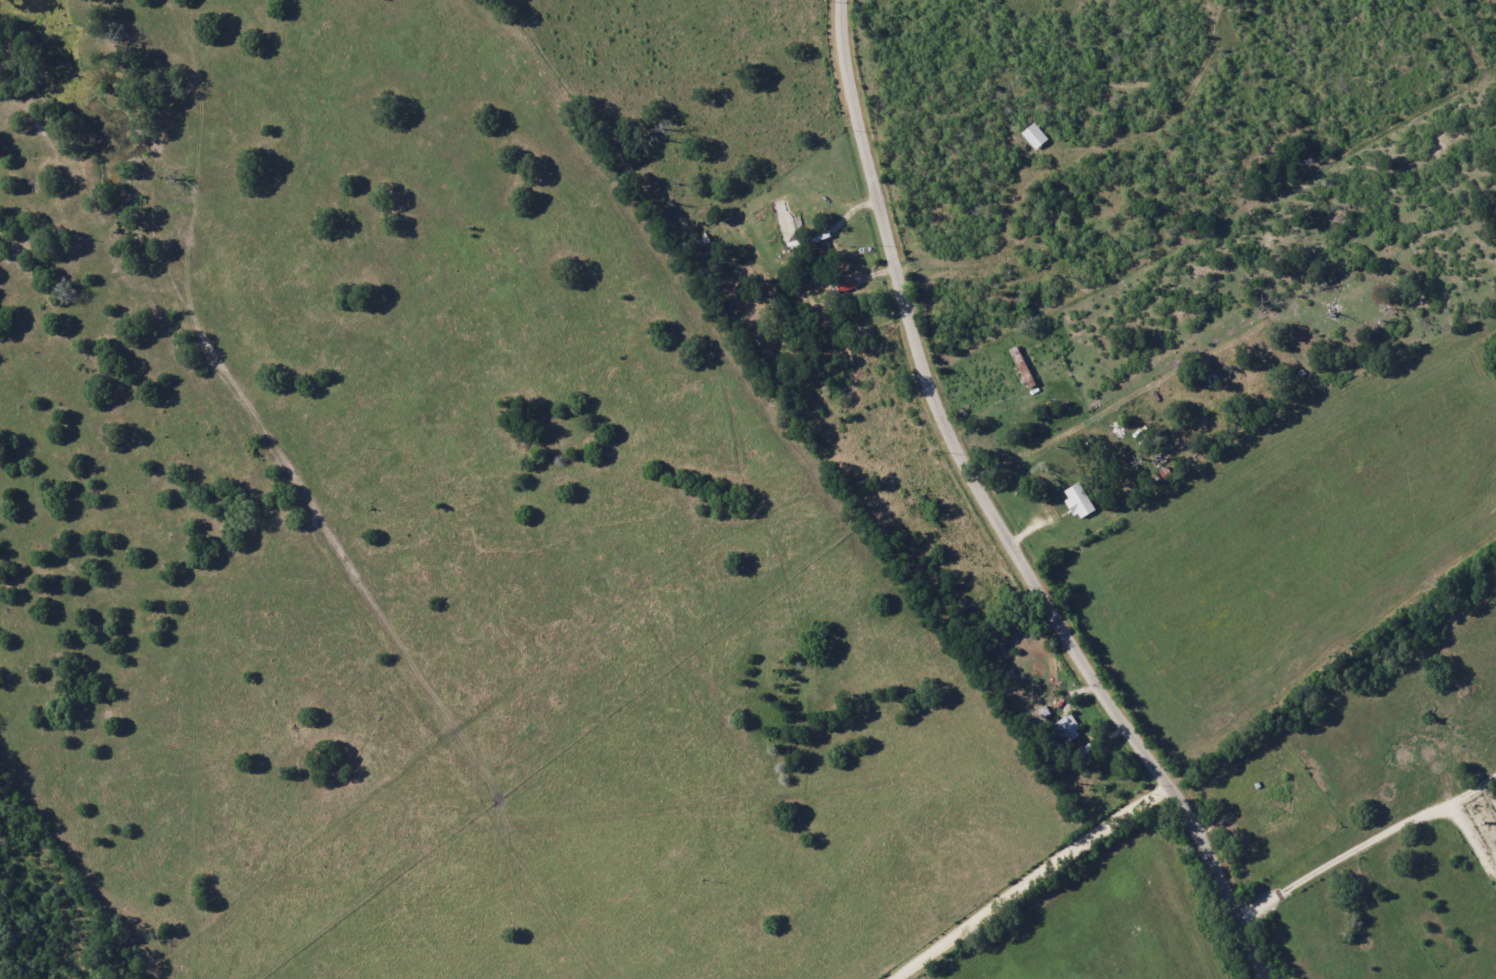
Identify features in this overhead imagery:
road: (1072, 434)
building: (1079, 501)
road: (998, 513)
building: (1067, 728)
road: (1346, 858)
road: (1040, 882)

